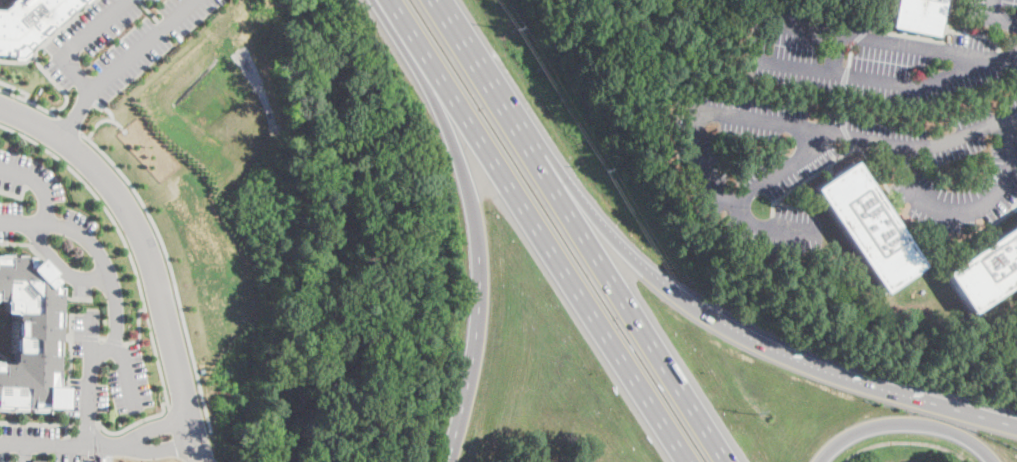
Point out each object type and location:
road: (397, 11)
parking lot: (995, 13)
building: (916, 16)
road: (996, 17)
building: (26, 20)
parking lot: (118, 42)
road: (758, 51)
road: (36, 54)
road: (990, 56)
parking lot: (863, 58)
road: (476, 59)
road: (17, 87)
road: (94, 90)
road: (28, 99)
road: (76, 116)
road: (102, 119)
road: (67, 122)
road: (858, 138)
road: (784, 170)
parking lot: (946, 172)
parking lot: (28, 176)
road: (43, 179)
road: (17, 193)
road: (723, 197)
road: (971, 210)
road: (593, 214)
road: (111, 218)
parking lot: (10, 219)
building: (869, 227)
road: (477, 238)
road: (545, 242)
road: (150, 252)
road: (60, 264)
road: (47, 266)
road: (170, 268)
building: (987, 271)
road: (623, 290)
road: (113, 297)
parking lot: (85, 331)
building: (28, 335)
road: (96, 335)
road: (3, 355)
road: (126, 371)
road: (829, 374)
parking lot: (129, 380)
parking lot: (86, 395)
road: (167, 398)
road: (66, 400)
road: (66, 423)
road: (905, 423)
road: (1003, 423)
road: (88, 424)
road: (150, 428)
parking lot: (25, 440)
road: (56, 444)
road: (154, 448)
road: (23, 453)
parking lot: (81, 454)
building: (36, 460)

